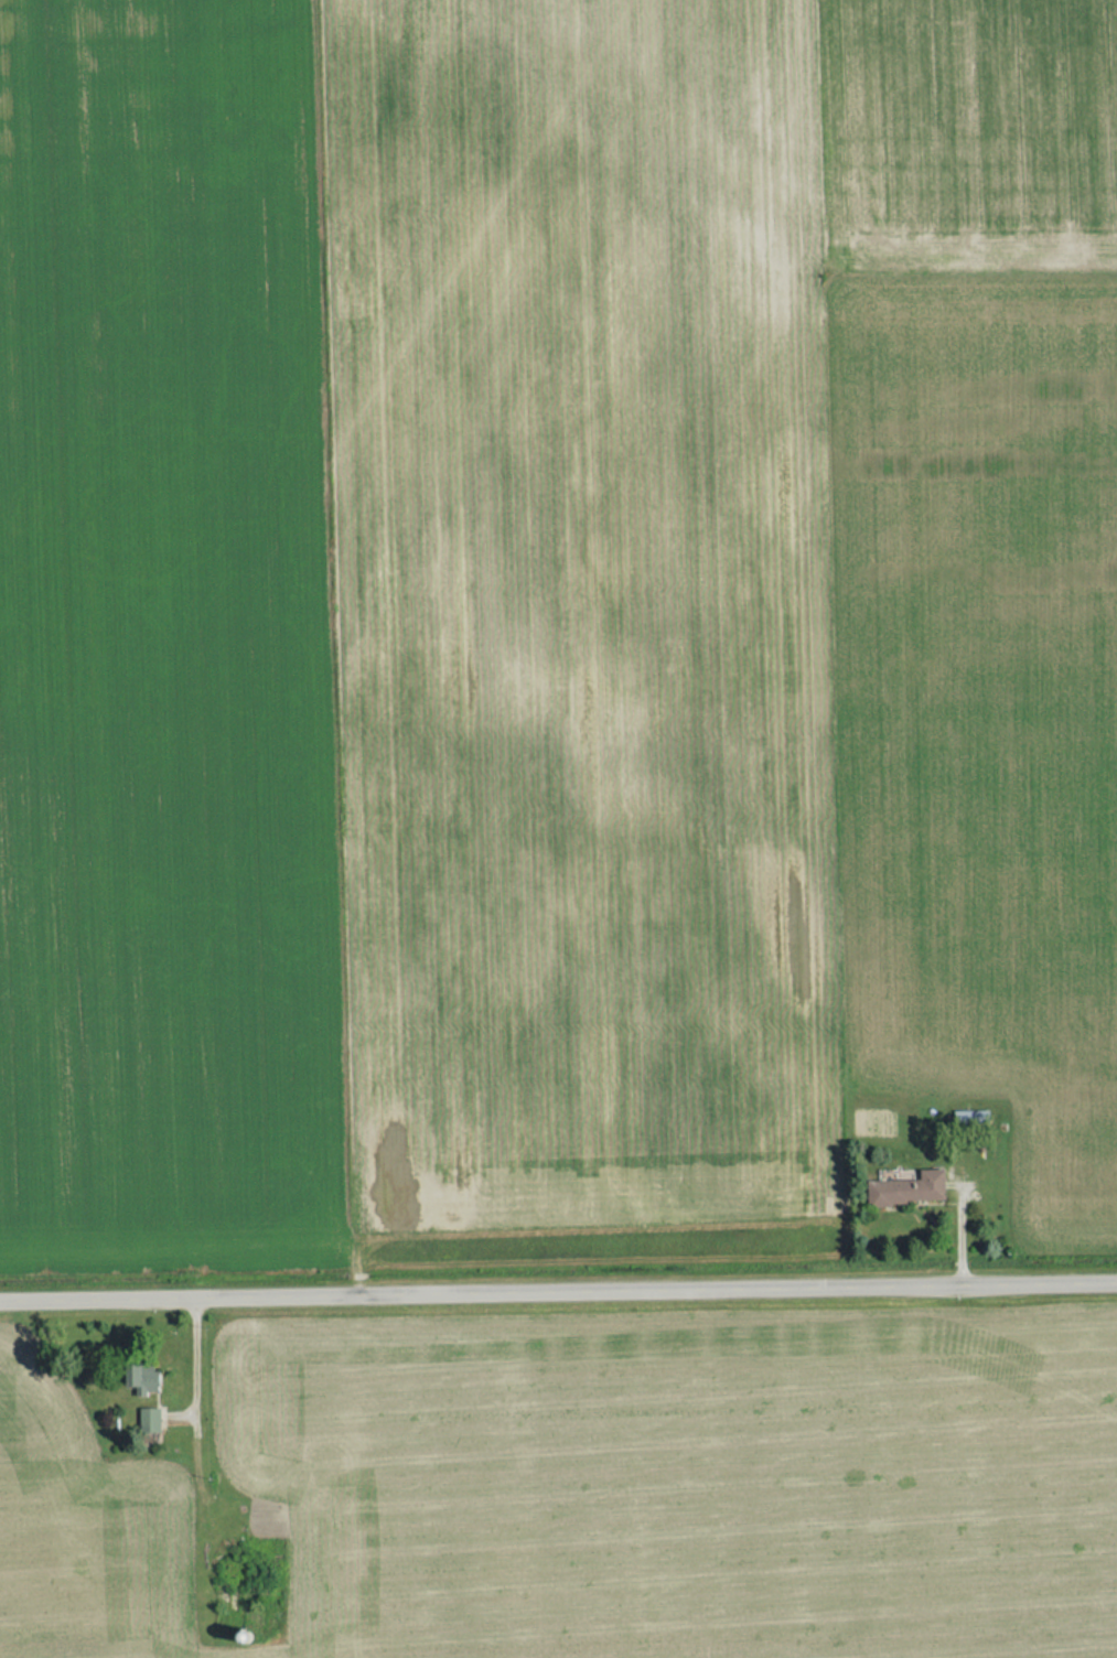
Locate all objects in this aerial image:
crop: (966, 137)
crop: (412, 632)
crop: (979, 715)
building: (903, 1188)
road: (558, 1282)
road: (198, 1359)
building: (144, 1420)
crop: (610, 1492)

